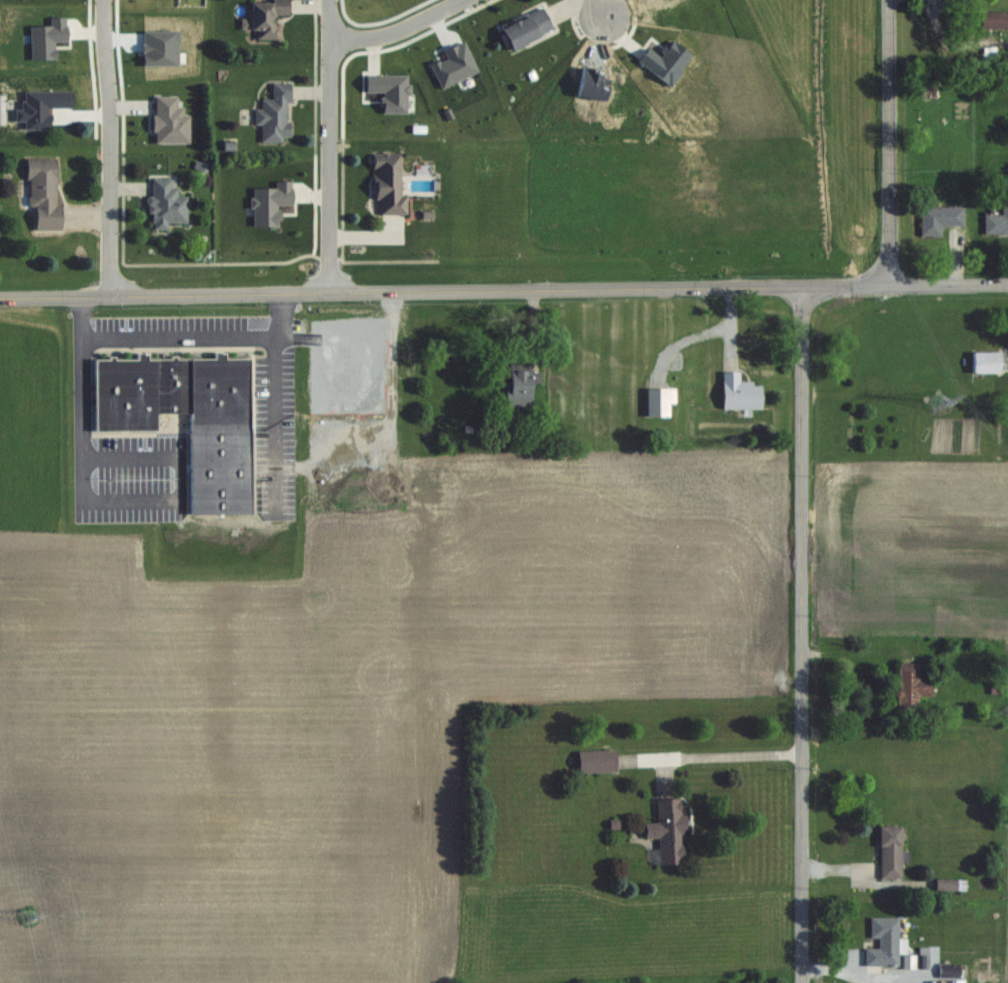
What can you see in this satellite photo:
building: (955, 2)
road: (604, 8)
building: (264, 18)
building: (994, 20)
road: (402, 29)
building: (526, 29)
building: (274, 115)
road: (891, 142)
road: (332, 145)
road: (112, 147)
building: (388, 183)
building: (43, 193)
building: (166, 204)
building: (940, 219)
building: (997, 221)
road: (950, 284)
road: (849, 285)
road: (402, 290)
road: (179, 337)
building: (985, 362)
building: (520, 383)
building: (171, 391)
building: (739, 392)
power tower: (951, 415)
road: (189, 499)
road: (804, 634)
road: (856, 654)
building: (911, 685)
road: (727, 756)
building: (596, 761)
building: (668, 830)
building: (890, 852)
building: (947, 884)
power tower: (27, 927)
building: (883, 942)
building: (952, 970)

